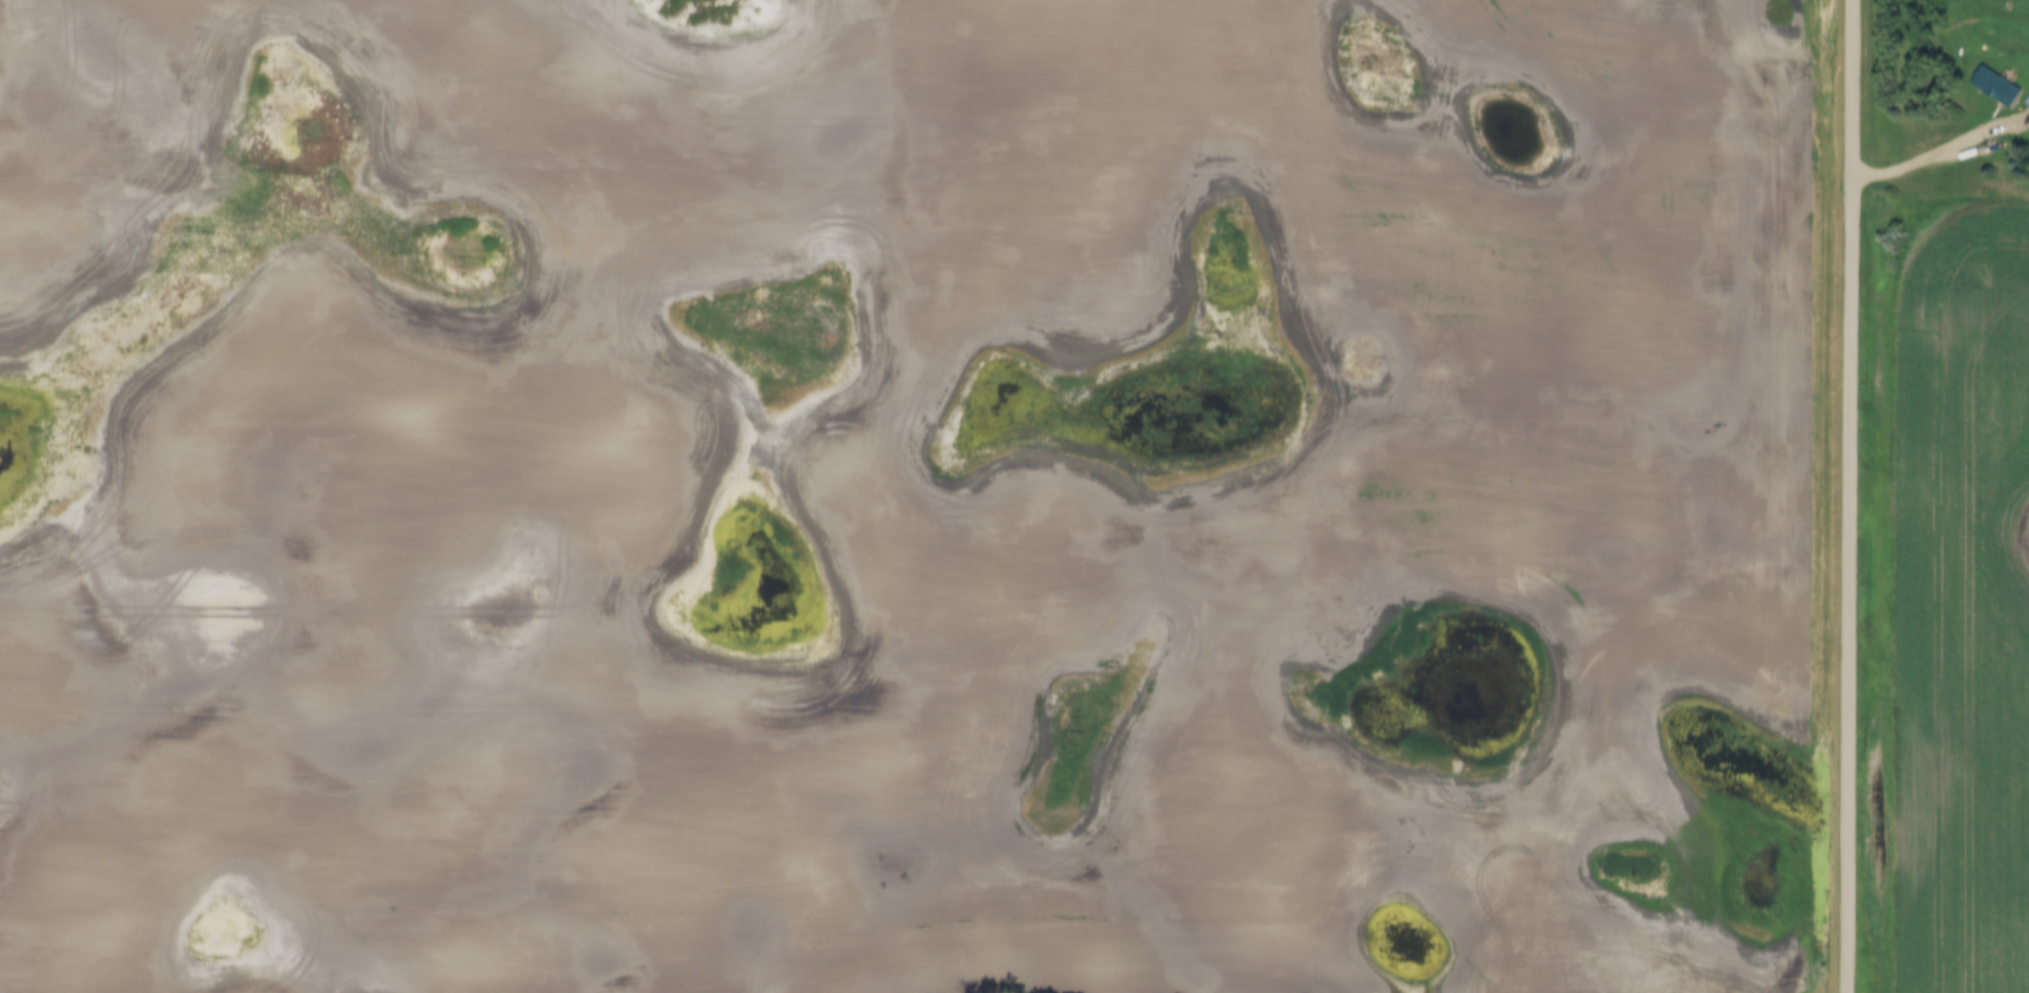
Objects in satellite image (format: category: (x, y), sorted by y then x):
building: (1998, 87)
building: (2028, 101)
road: (1944, 148)
road: (1854, 496)

